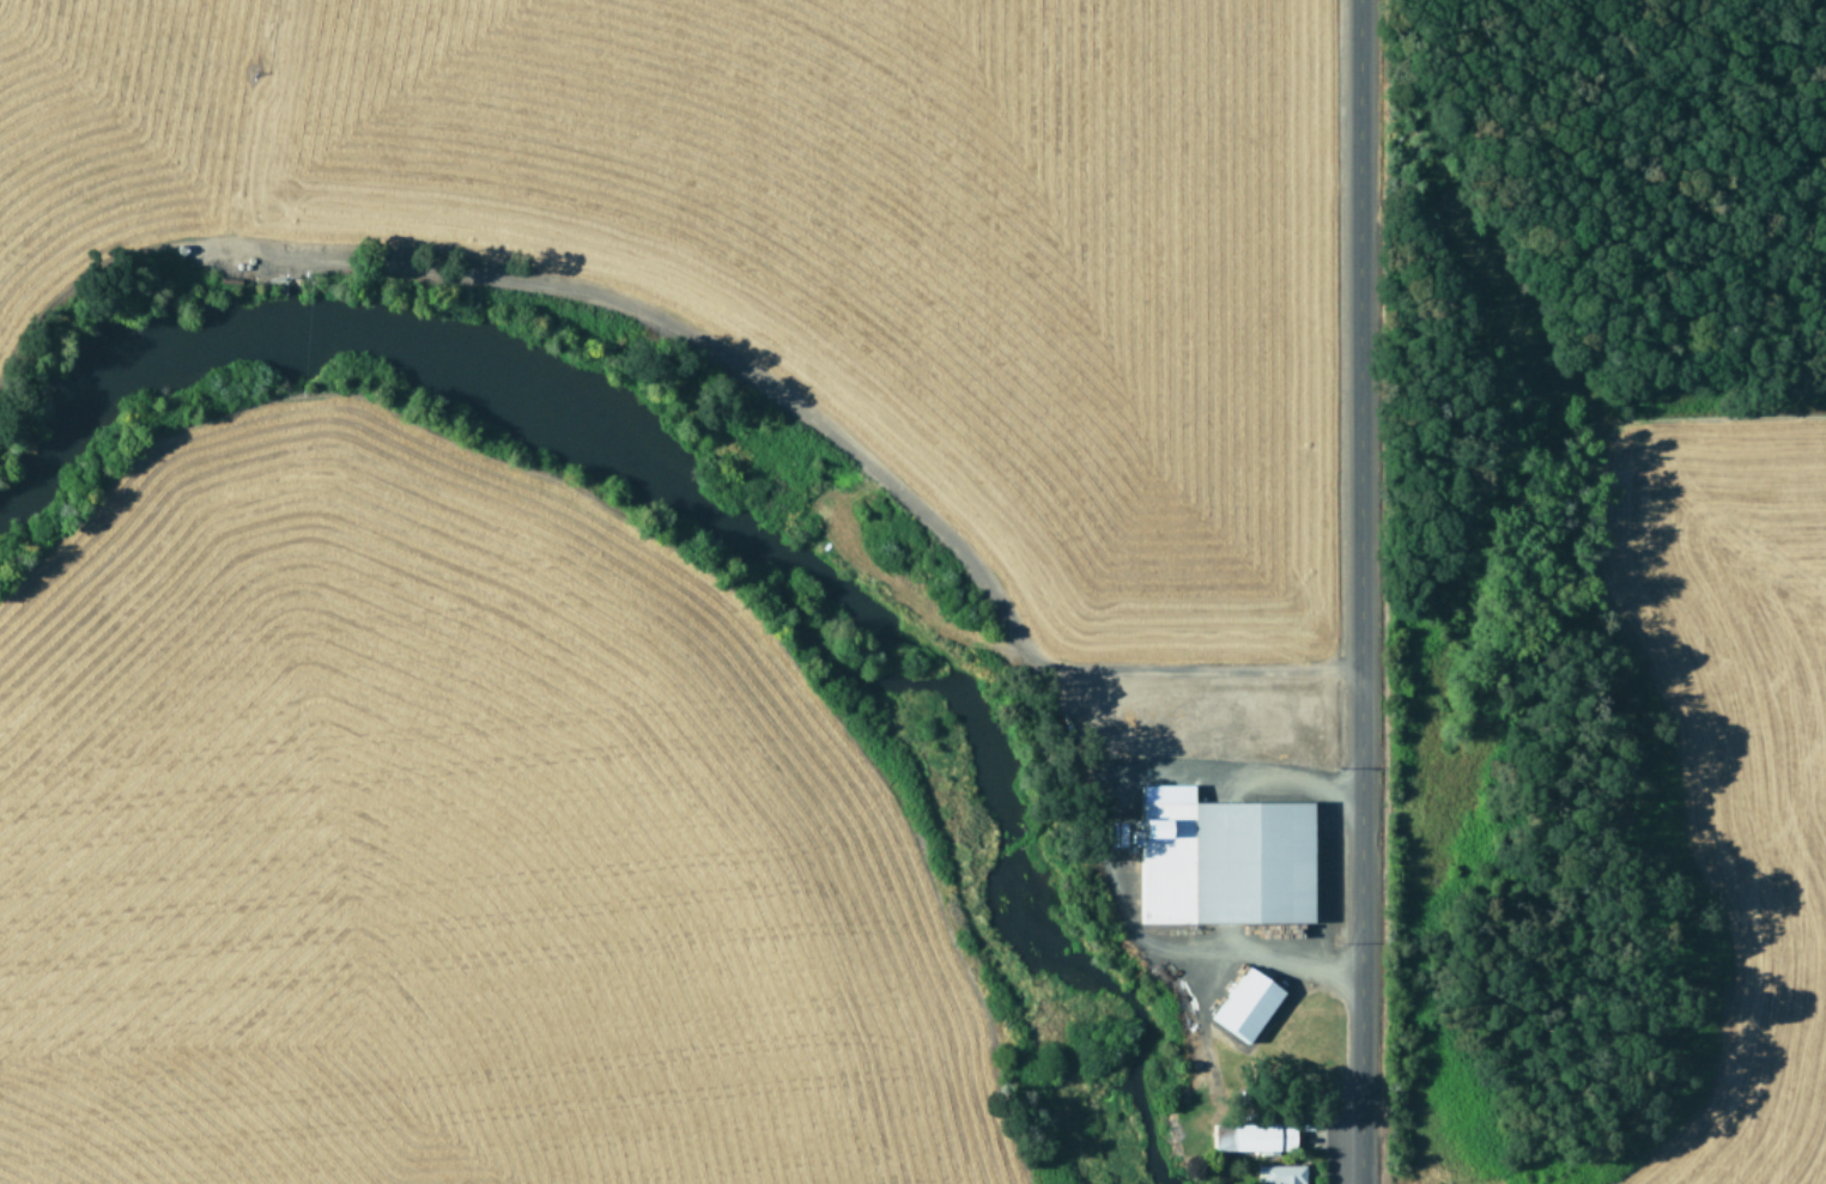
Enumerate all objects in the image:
road: (1349, 591)
crop: (432, 839)
building: (1217, 860)
building: (1242, 1006)
building: (1249, 1139)
building: (1276, 1174)

